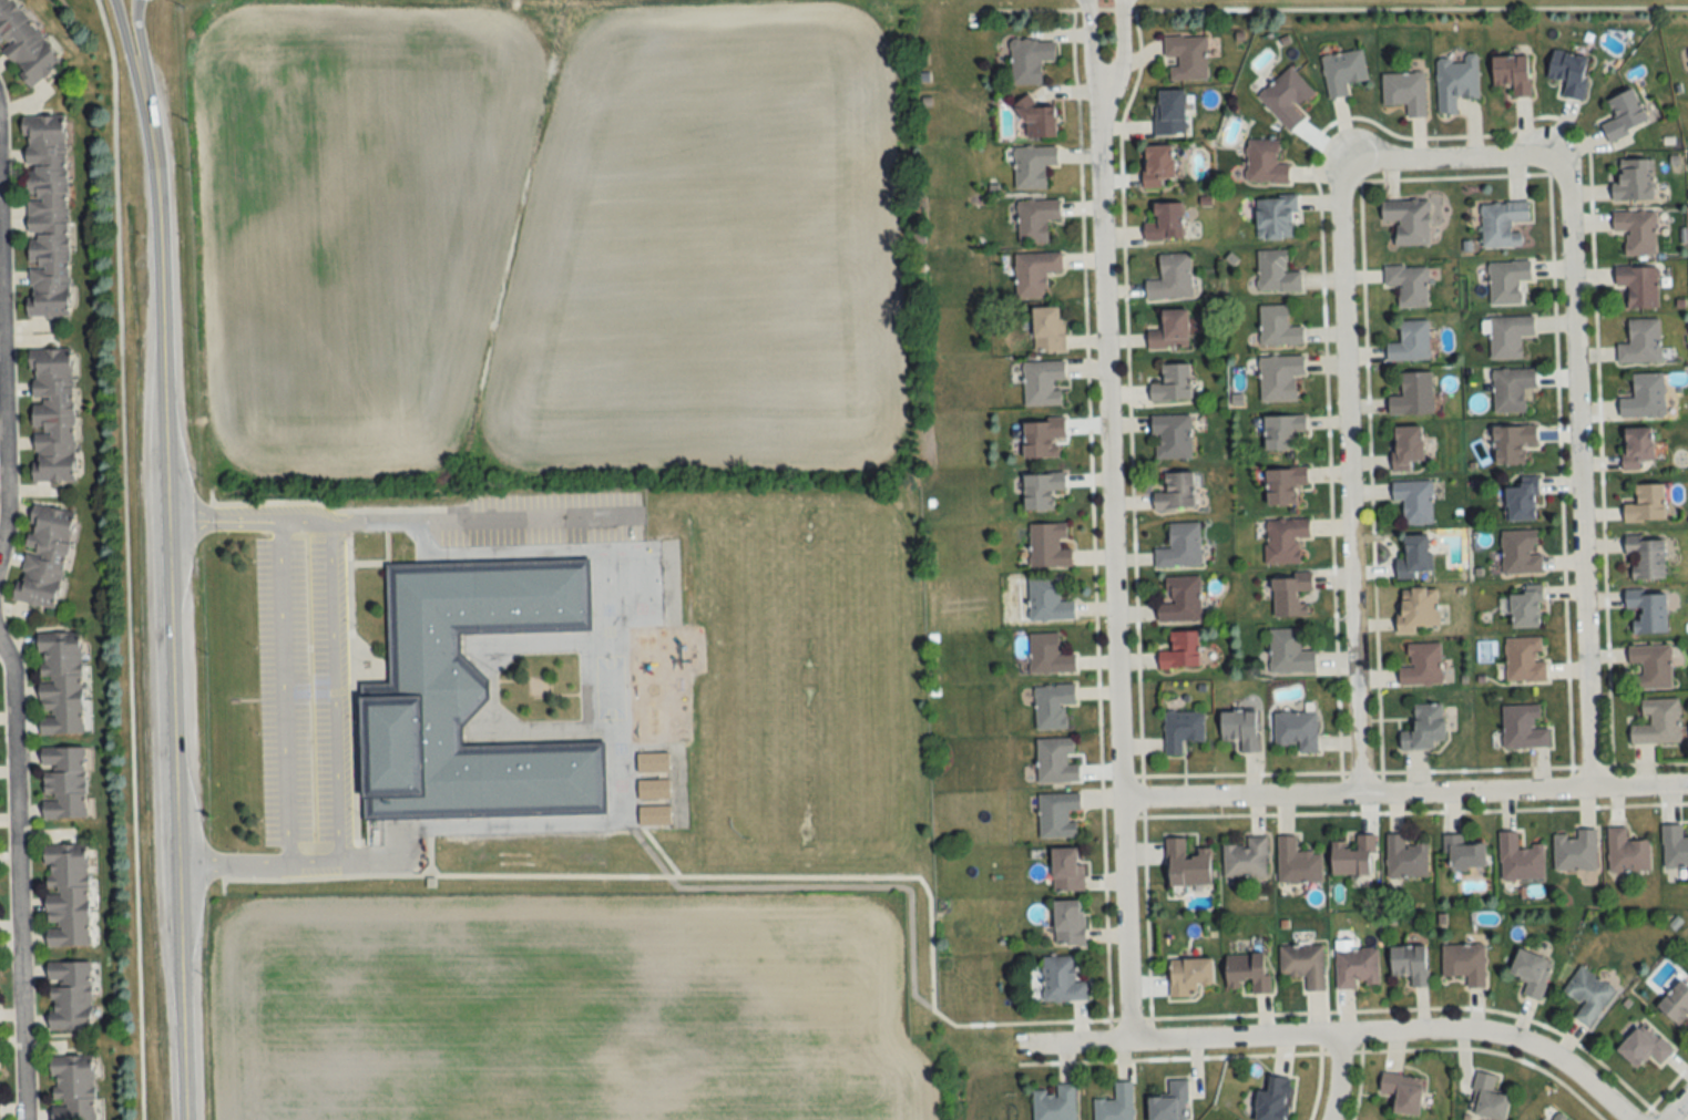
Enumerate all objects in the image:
road: (1332, 9)
road: (1089, 45)
road: (1119, 45)
building: (22, 47)
road: (142, 55)
road: (126, 56)
building: (1186, 56)
building: (1030, 59)
building: (1342, 71)
building: (1512, 72)
building: (1569, 72)
building: (1455, 82)
building: (1405, 91)
building: (1286, 97)
building: (1169, 112)
building: (1625, 115)
building: (1037, 120)
road: (1451, 160)
building: (1265, 163)
building: (1157, 164)
building: (1033, 165)
building: (1634, 181)
building: (45, 215)
building: (1277, 217)
building: (1036, 219)
building: (1408, 220)
building: (1165, 222)
building: (1502, 223)
building: (1637, 232)
building: (1276, 273)
building: (1034, 274)
building: (1172, 278)
building: (1507, 281)
building: (1408, 284)
building: (1638, 286)
building: (1278, 327)
building: (1048, 329)
building: (1170, 330)
building: (1508, 336)
building: (1411, 341)
building: (1640, 341)
building: (1279, 377)
building: (1042, 382)
building: (1173, 383)
building: (1511, 389)
building: (1413, 394)
building: (1645, 397)
building: (51, 414)
road: (2, 420)
building: (1282, 430)
building: (1172, 435)
building: (1042, 436)
building: (1513, 443)
building: (1406, 446)
building: (1637, 446)
road: (1578, 476)
road: (1349, 483)
building: (1283, 484)
building: (1041, 490)
building: (1176, 491)
building: (1414, 501)
building: (1522, 502)
building: (1647, 504)
road: (481, 517)
road: (247, 520)
building: (1285, 538)
building: (1048, 545)
building: (1180, 546)
building: (43, 555)
building: (1413, 556)
building: (1646, 556)
road: (126, 558)
road: (1113, 565)
building: (1290, 595)
building: (1180, 599)
building: (1047, 602)
building: (1527, 607)
building: (1416, 608)
building: (1648, 610)
road: (172, 615)
building: (1181, 651)
building: (1289, 653)
building: (1048, 656)
building: (1524, 658)
building: (1422, 665)
building: (1649, 667)
building: (59, 684)
road: (283, 692)
building: (468, 695)
building: (1053, 706)
building: (1657, 722)
building: (1523, 727)
building: (1424, 728)
building: (1240, 729)
building: (1181, 730)
building: (1297, 731)
building: (1056, 761)
road: (336, 770)
building: (653, 777)
building: (62, 783)
road: (1404, 795)
building: (654, 815)
building: (1058, 815)
building: (1675, 847)
building: (1575, 851)
building: (1627, 853)
building: (1463, 854)
building: (1353, 857)
building: (1405, 859)
building: (1520, 859)
building: (1246, 860)
building: (1298, 863)
building: (1186, 864)
building: (1066, 871)
road: (18, 884)
building: (65, 895)
building: (1068, 922)
building: (1465, 963)
building: (1303, 964)
building: (1410, 964)
road: (930, 966)
building: (1357, 967)
building: (1248, 972)
building: (1532, 973)
building: (1189, 976)
building: (1062, 980)
building: (1588, 995)
building: (69, 996)
building: (1677, 1003)
road: (1346, 1035)
building: (1643, 1047)
road: (1319, 1054)
road: (1337, 1078)
building: (71, 1088)
building: (1403, 1092)
road: (1664, 1092)
building: (1487, 1099)
building: (1273, 1100)
building: (1054, 1103)
building: (1170, 1103)
building: (1116, 1104)
road: (1678, 1109)
building: (1556, 1116)

